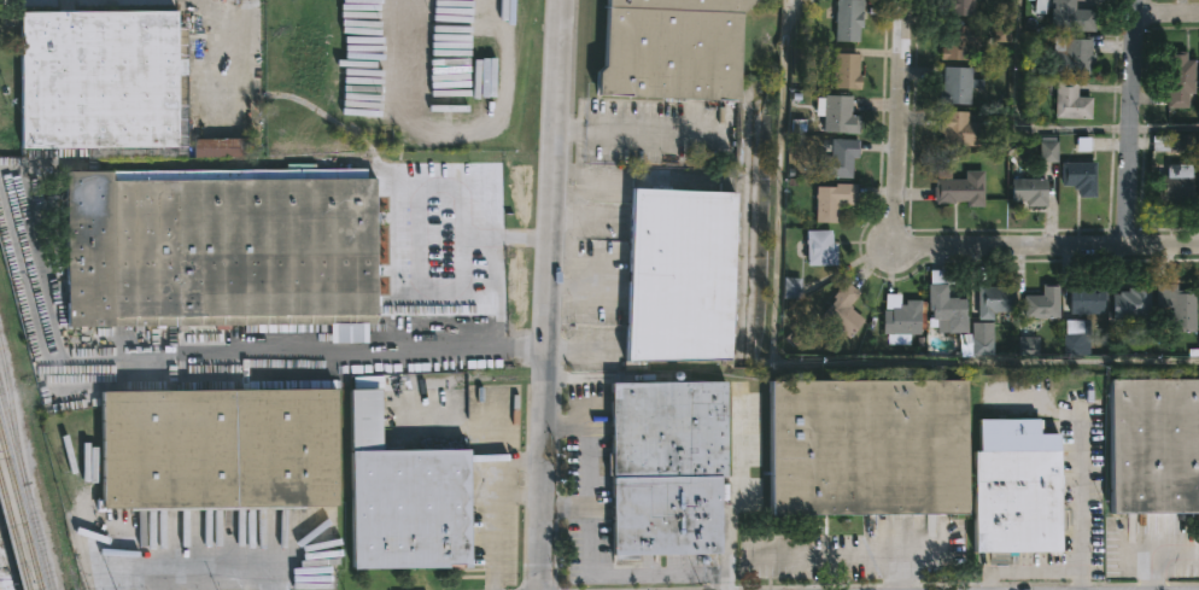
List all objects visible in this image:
road: (247, 2)
building: (958, 7)
road: (1168, 13)
building: (1071, 18)
building: (848, 19)
road: (222, 36)
building: (958, 42)
building: (671, 51)
building: (1072, 58)
building: (846, 72)
building: (1178, 80)
building: (101, 86)
building: (954, 87)
building: (1070, 103)
road: (901, 112)
building: (837, 115)
road: (1019, 121)
road: (1131, 122)
road: (1165, 128)
building: (957, 129)
road: (636, 133)
building: (1171, 144)
building: (1084, 146)
building: (218, 148)
building: (1048, 153)
building: (838, 159)
building: (1080, 179)
building: (1177, 185)
road: (585, 189)
building: (959, 191)
building: (1029, 192)
road: (468, 193)
building: (832, 200)
road: (587, 221)
road: (514, 240)
road: (1042, 246)
building: (823, 249)
building: (220, 251)
road: (416, 271)
building: (678, 275)
road: (584, 288)
building: (790, 288)
road: (548, 294)
building: (993, 299)
building: (1086, 299)
building: (1042, 302)
building: (1131, 302)
building: (946, 305)
building: (1177, 305)
building: (843, 309)
building: (903, 319)
building: (1074, 338)
road: (583, 350)
road: (332, 351)
road: (802, 366)
building: (1151, 445)
building: (856, 449)
building: (285, 463)
building: (672, 468)
building: (1017, 486)
railway: (25, 490)
road: (524, 492)
road: (739, 495)
road: (1082, 507)
road: (501, 510)
road: (571, 510)
railway: (18, 512)
railway: (13, 536)
road: (597, 545)
road: (1154, 549)
road: (842, 556)
road: (5, 568)
road: (1037, 572)

